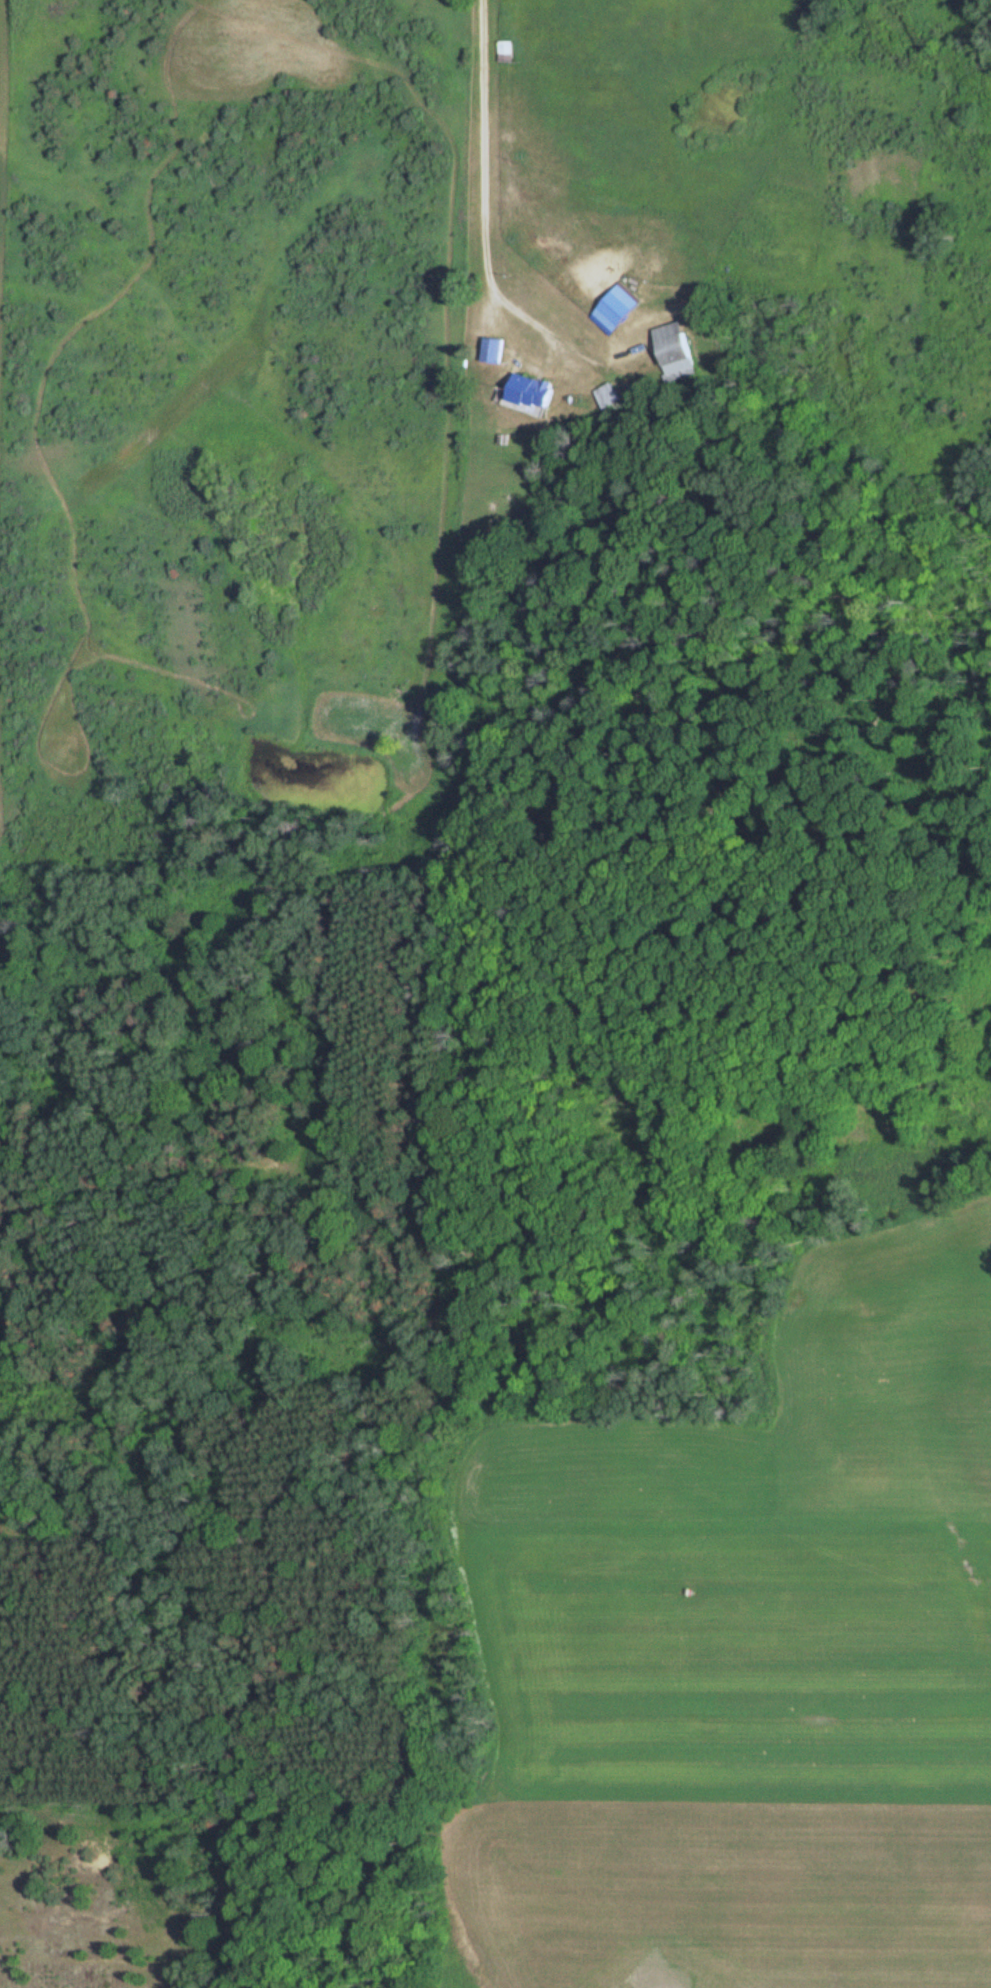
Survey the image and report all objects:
building: (504, 51)
building: (616, 307)
building: (676, 350)
building: (531, 392)
building: (607, 396)

